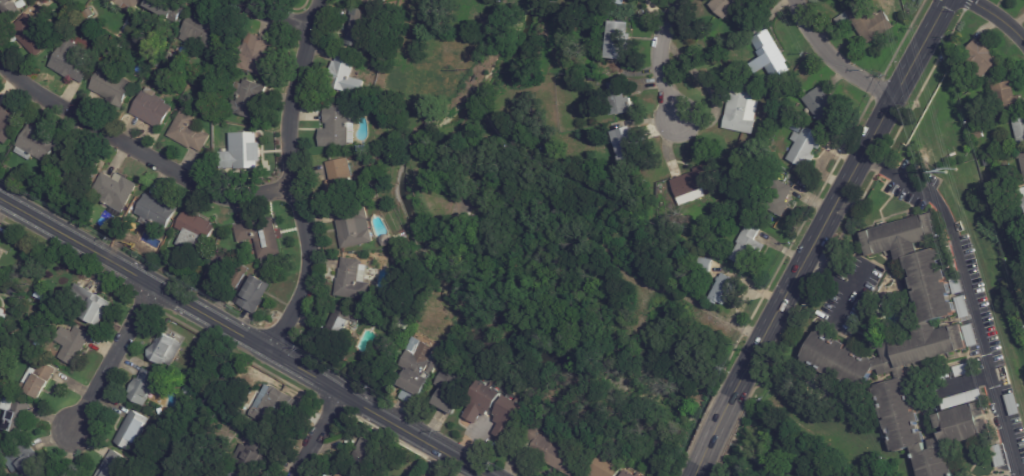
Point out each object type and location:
building: (365, 1)
building: (615, 1)
building: (381, 2)
building: (126, 5)
building: (726, 6)
building: (9, 8)
building: (168, 10)
building: (88, 15)
road: (265, 19)
building: (866, 20)
road: (994, 23)
building: (352, 26)
building: (201, 31)
building: (31, 36)
building: (620, 40)
building: (224, 42)
building: (119, 45)
building: (772, 54)
building: (255, 56)
building: (982, 58)
road: (836, 59)
building: (71, 62)
road: (661, 62)
building: (155, 64)
building: (340, 74)
building: (191, 83)
building: (965, 84)
building: (112, 88)
building: (369, 93)
building: (1008, 95)
building: (247, 100)
building: (623, 103)
building: (823, 104)
building: (741, 106)
building: (152, 109)
building: (1020, 125)
building: (7, 126)
building: (333, 127)
building: (189, 133)
building: (980, 135)
building: (805, 144)
building: (38, 146)
building: (630, 148)
building: (363, 150)
road: (138, 152)
building: (767, 152)
building: (1022, 153)
building: (242, 154)
building: (989, 161)
power tower: (949, 173)
building: (64, 177)
road: (290, 178)
building: (341, 181)
building: (697, 184)
building: (115, 192)
building: (1022, 192)
road: (845, 195)
building: (778, 198)
building: (745, 200)
building: (54, 201)
building: (156, 213)
building: (82, 215)
building: (354, 228)
building: (194, 232)
building: (0, 236)
building: (260, 239)
building: (749, 244)
building: (130, 245)
building: (0, 247)
building: (225, 263)
building: (706, 265)
building: (178, 268)
building: (1, 271)
building: (353, 281)
road: (845, 281)
building: (724, 289)
building: (11, 290)
park: (591, 291)
building: (246, 292)
building: (40, 295)
road: (968, 299)
building: (87, 305)
building: (406, 325)
building: (342, 328)
road: (241, 337)
building: (426, 339)
building: (71, 344)
building: (166, 350)
building: (909, 352)
road: (108, 354)
building: (418, 370)
building: (37, 380)
road: (959, 382)
building: (143, 387)
building: (188, 392)
building: (451, 392)
building: (223, 393)
building: (483, 402)
building: (277, 407)
building: (512, 412)
building: (11, 414)
road: (713, 429)
building: (131, 430)
road: (322, 436)
park: (793, 448)
building: (546, 452)
building: (254, 456)
building: (364, 456)
building: (26, 461)
building: (114, 465)
building: (608, 467)
road: (692, 473)
building: (54, 474)
building: (632, 474)
building: (340, 475)

